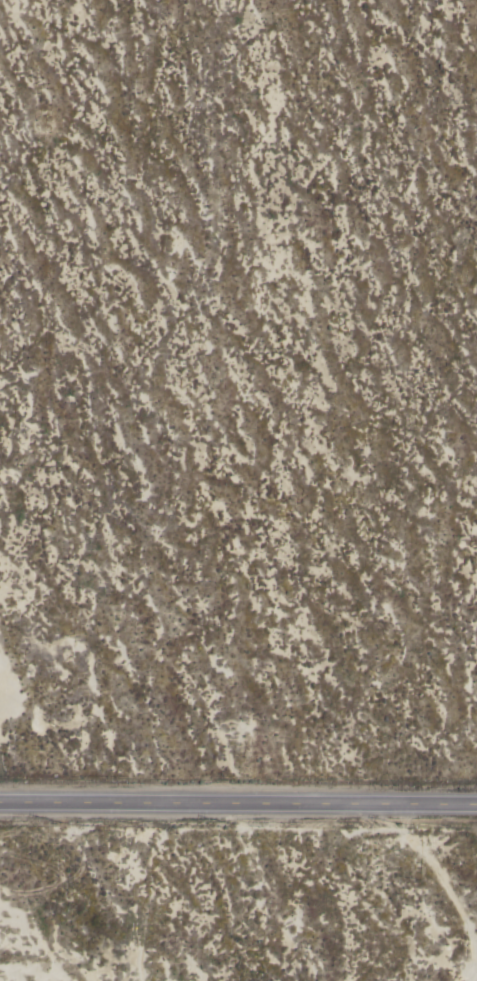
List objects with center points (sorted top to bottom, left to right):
road: (238, 809)
road: (448, 888)

